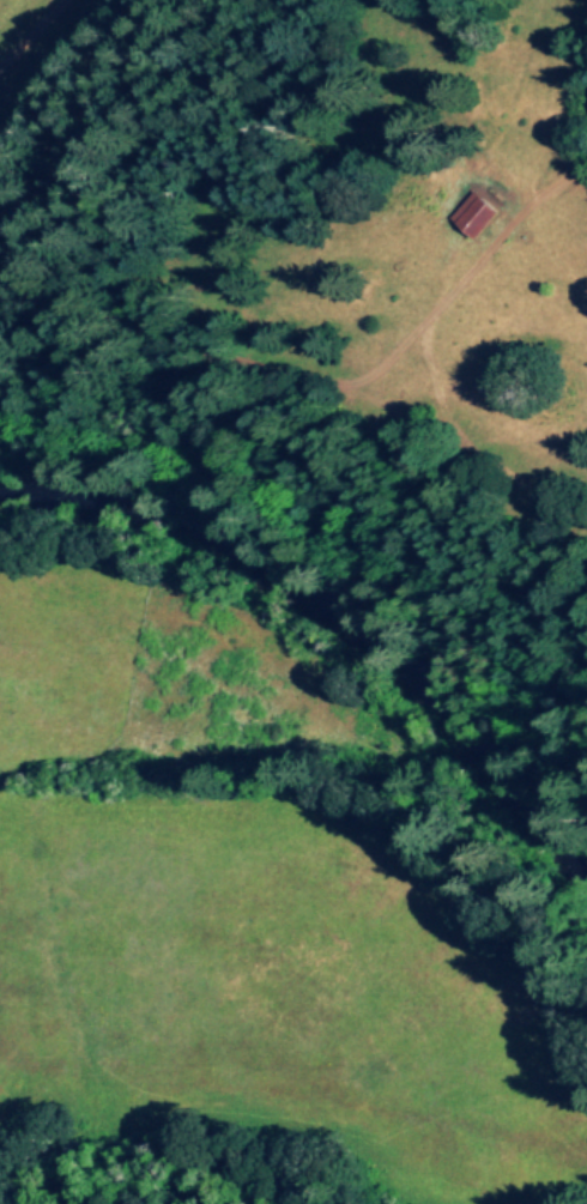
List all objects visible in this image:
building: (477, 212)
river: (315, 640)

